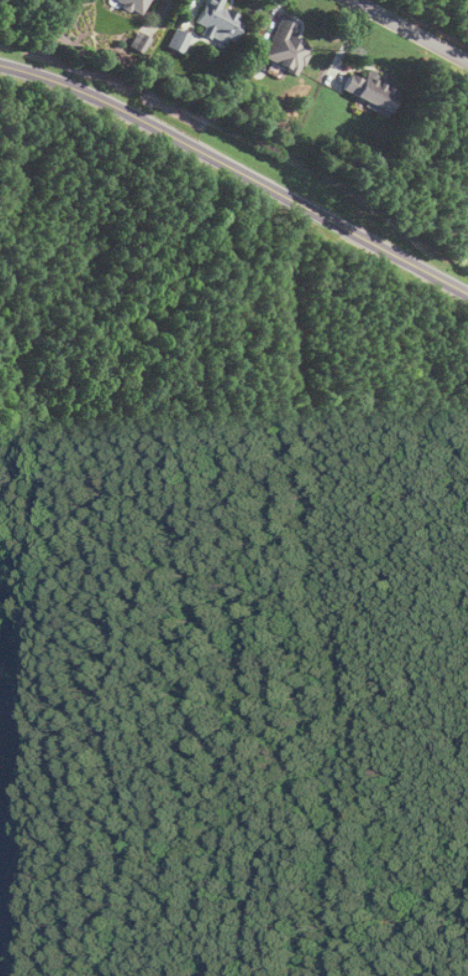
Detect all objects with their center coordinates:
building: (133, 5)
building: (219, 22)
road: (407, 33)
building: (179, 42)
building: (140, 44)
building: (285, 48)
building: (373, 93)
road: (237, 172)
road: (345, 591)

